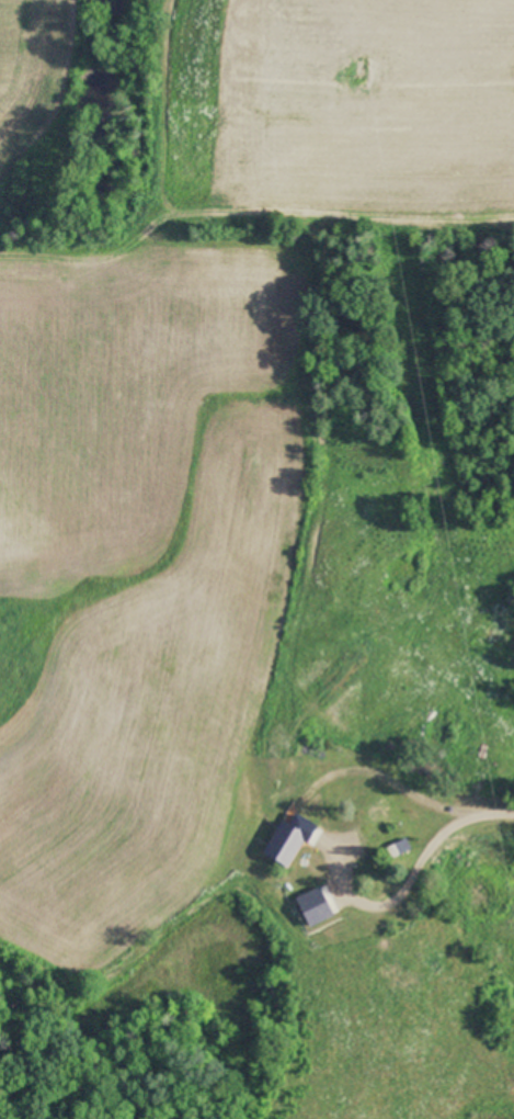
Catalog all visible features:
road: (313, 806)
road: (488, 832)
building: (352, 849)

